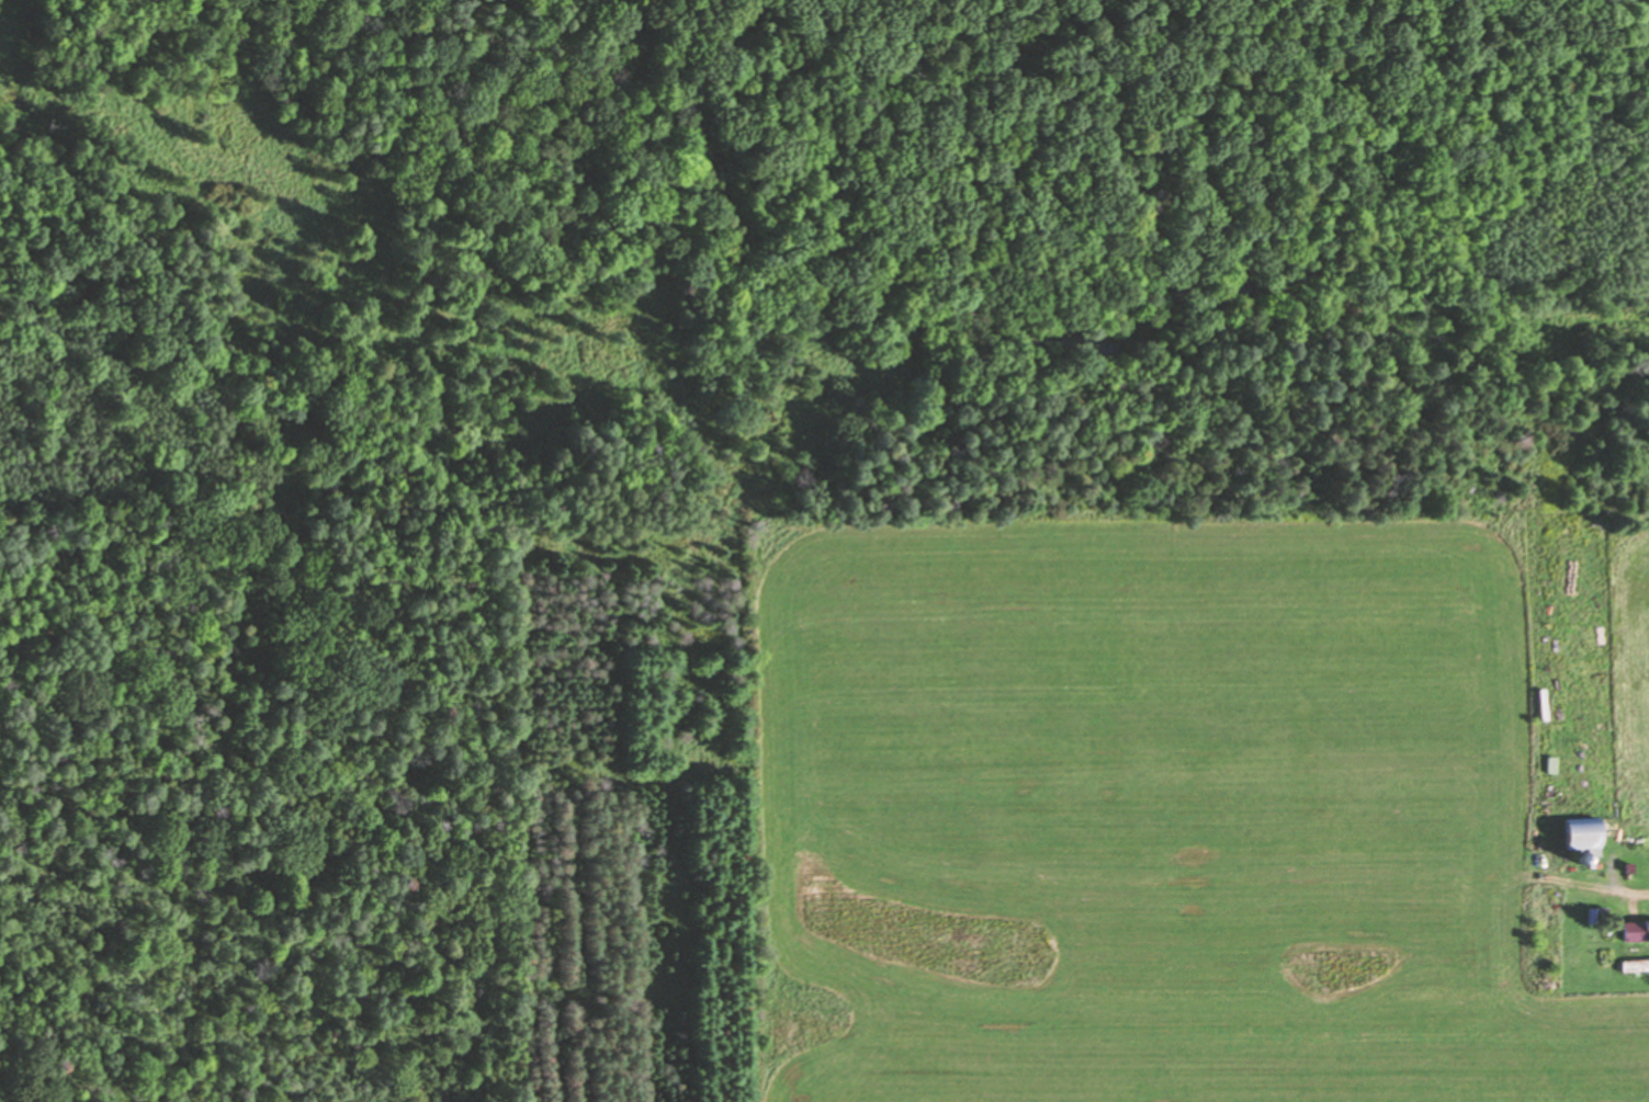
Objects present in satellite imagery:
building: (1573, 833)
building: (1633, 930)
building: (1638, 965)

